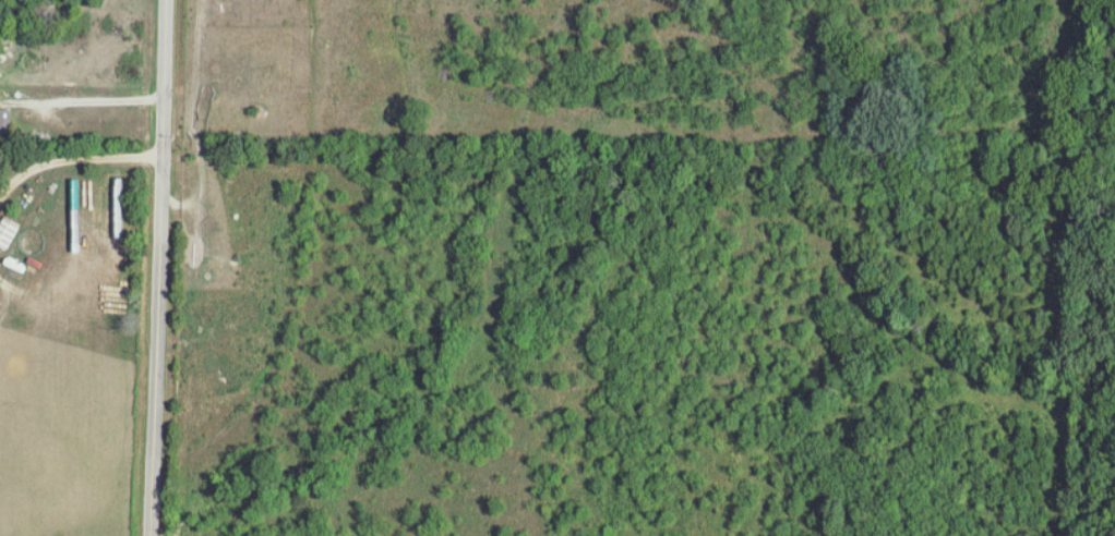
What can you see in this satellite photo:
building: (5, 120)
road: (73, 166)
building: (11, 231)
road: (159, 268)

